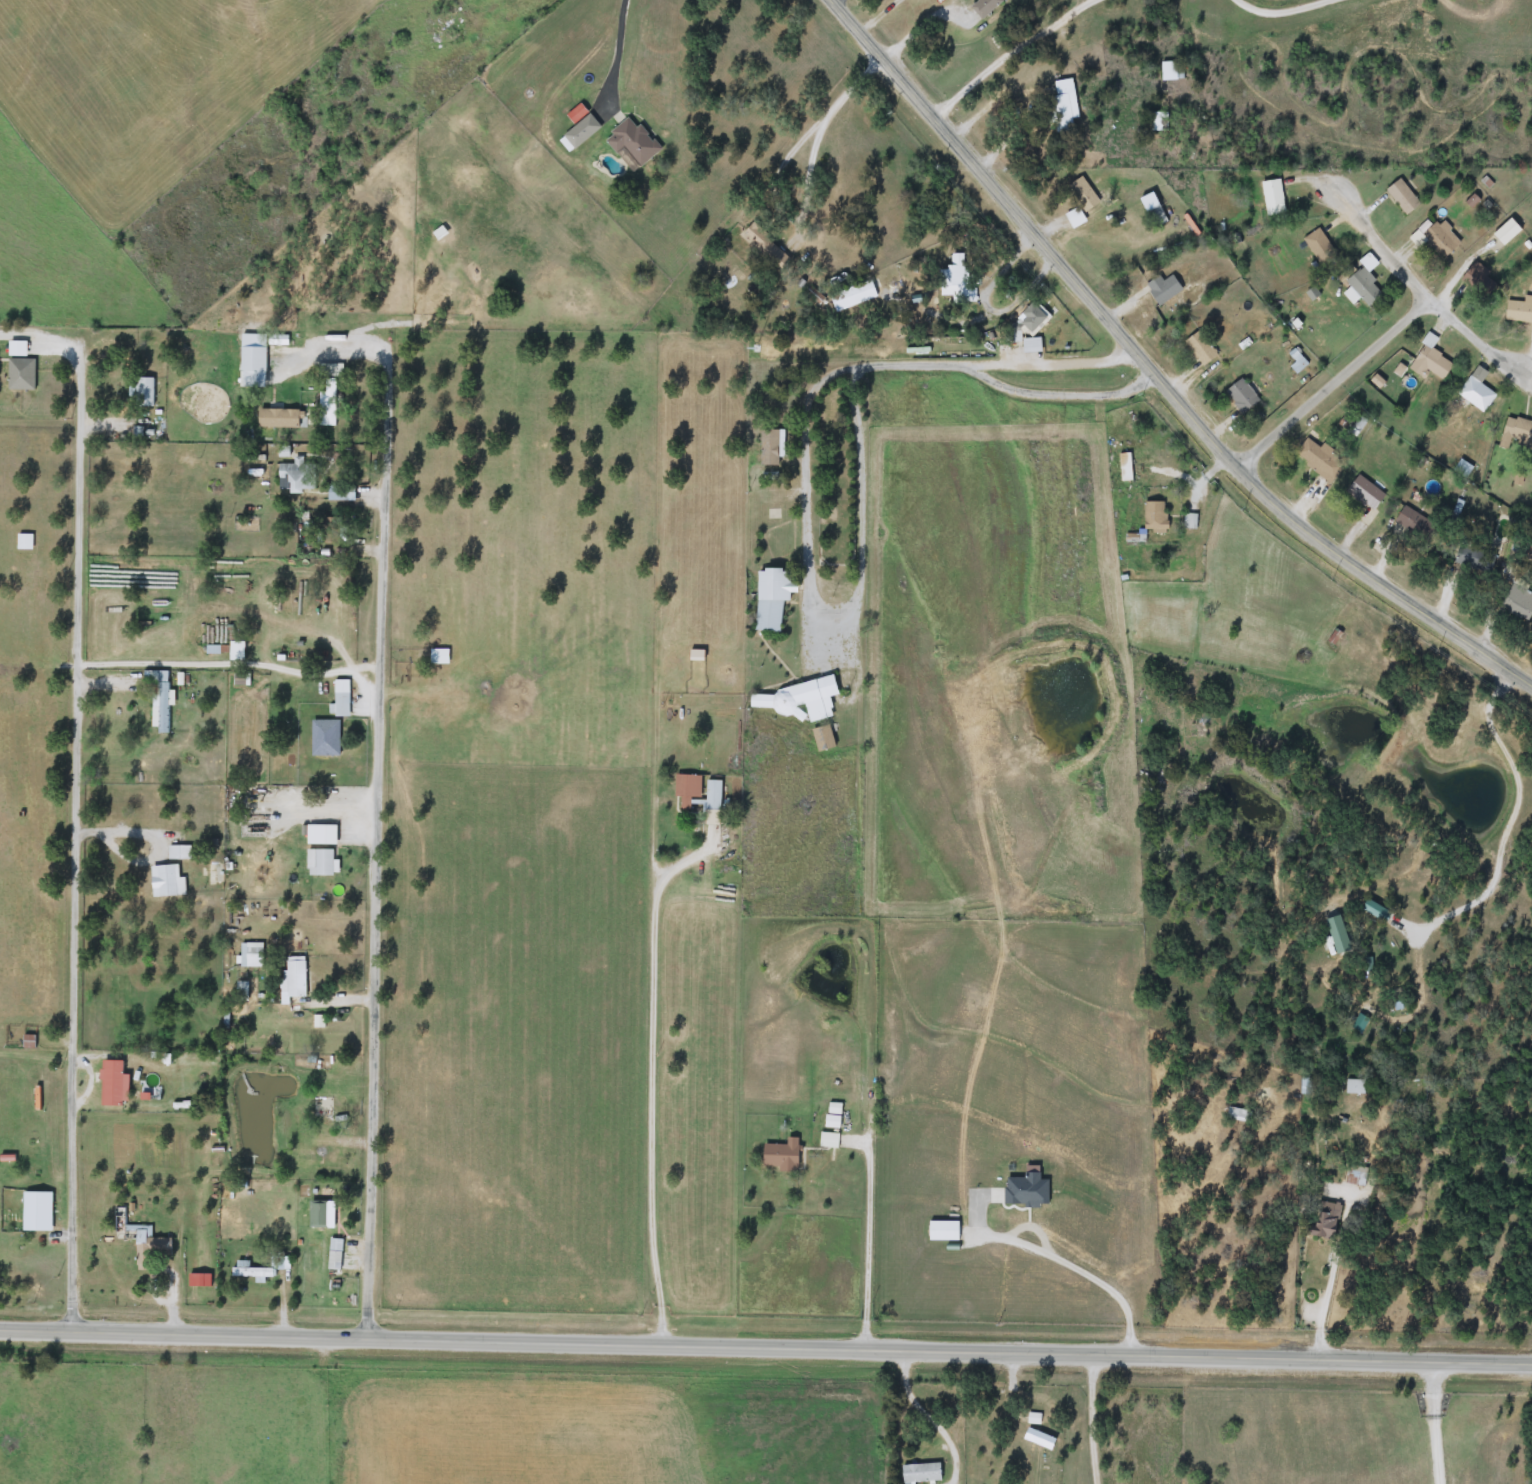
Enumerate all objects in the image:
building: (984, 6)
road: (1292, 15)
road: (617, 51)
road: (1020, 55)
building: (1172, 70)
building: (1064, 104)
building: (1158, 121)
road: (820, 124)
building: (580, 133)
building: (633, 142)
building: (1083, 194)
building: (1403, 196)
building: (1273, 197)
building: (1075, 217)
building: (1507, 232)
building: (1437, 237)
building: (767, 247)
building: (1321, 247)
building: (1368, 261)
road: (1412, 279)
building: (956, 281)
building: (1480, 281)
building: (1363, 286)
building: (1164, 288)
building: (854, 296)
building: (1519, 310)
building: (1032, 318)
building: (18, 348)
building: (1201, 348)
building: (254, 359)
building: (1430, 361)
road: (833, 367)
road: (1157, 373)
building: (22, 374)
road: (1330, 379)
building: (1476, 390)
building: (141, 392)
building: (1244, 394)
road: (1060, 396)
building: (327, 403)
building: (282, 418)
building: (1516, 434)
building: (771, 447)
building: (1321, 460)
building: (1126, 467)
building: (296, 473)
building: (338, 493)
building: (1367, 493)
building: (1156, 517)
building: (1415, 524)
road: (1249, 529)
building: (25, 542)
building: (1467, 557)
building: (772, 597)
building: (1518, 602)
building: (213, 650)
building: (237, 651)
building: (440, 657)
road: (314, 668)
building: (342, 698)
building: (160, 699)
building: (800, 699)
building: (326, 738)
building: (687, 790)
road: (374, 803)
building: (713, 803)
building: (321, 835)
road: (118, 846)
building: (179, 853)
building: (325, 863)
road: (73, 877)
building: (213, 877)
building: (167, 881)
building: (295, 982)
building: (113, 1083)
road: (653, 1084)
building: (1355, 1087)
building: (1239, 1115)
building: (834, 1116)
building: (828, 1140)
building: (781, 1156)
building: (308, 1165)
building: (1356, 1176)
building: (319, 1214)
building: (1327, 1220)
building: (29, 1222)
building: (943, 1231)
road: (865, 1237)
building: (138, 1238)
road: (1068, 1264)
building: (253, 1273)
road: (1324, 1307)
road: (765, 1346)
road: (927, 1414)
road: (1099, 1417)
building: (1034, 1419)
road: (1435, 1421)
building: (1039, 1438)
building: (922, 1473)

